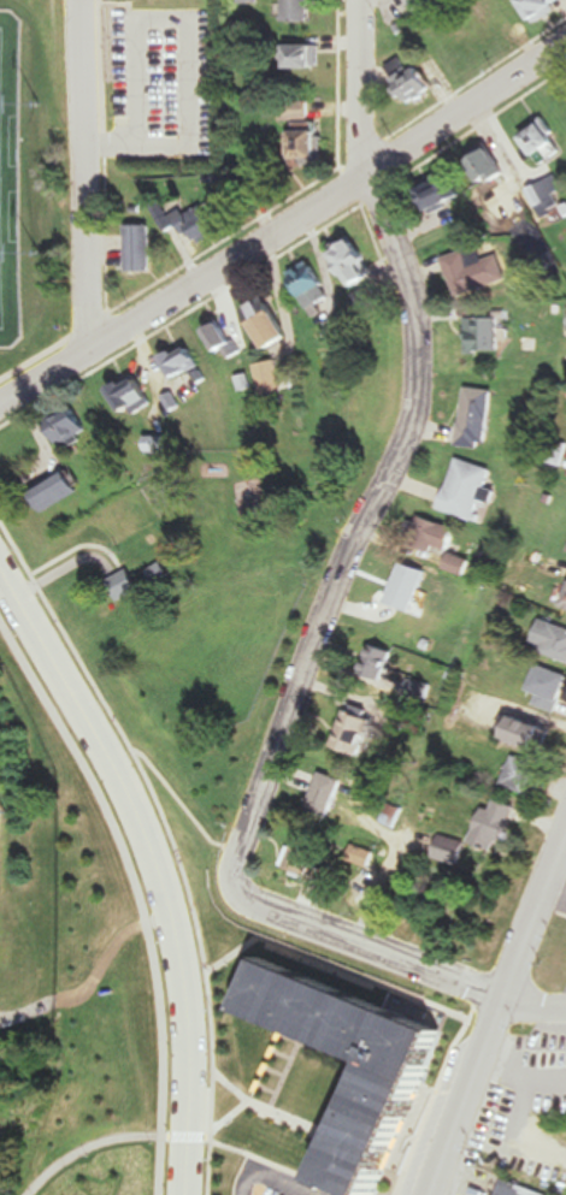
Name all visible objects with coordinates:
building: (542, 7)
building: (299, 11)
road: (189, 19)
building: (497, 26)
building: (456, 55)
building: (305, 57)
building: (408, 78)
parking lot: (165, 82)
road: (360, 87)
building: (544, 141)
building: (309, 142)
road: (112, 144)
building: (499, 172)
road: (86, 173)
building: (442, 193)
building: (543, 196)
building: (195, 223)
road: (282, 223)
building: (138, 248)
road: (284, 249)
building: (353, 262)
road: (169, 271)
building: (476, 271)
building: (311, 286)
building: (367, 297)
building: (266, 324)
building: (485, 336)
building: (220, 341)
building: (267, 378)
building: (130, 395)
building: (478, 418)
building: (72, 431)
building: (155, 446)
building: (556, 454)
building: (470, 489)
building: (58, 493)
road: (360, 534)
building: (432, 534)
building: (161, 574)
building: (125, 586)
building: (413, 587)
park: (201, 614)
park: (243, 621)
building: (552, 639)
building: (382, 662)
building: (420, 688)
building: (550, 688)
building: (399, 714)
building: (362, 726)
building: (533, 734)
building: (355, 744)
building: (525, 775)
building: (334, 787)
road: (175, 795)
building: (325, 807)
building: (395, 807)
building: (499, 827)
road: (167, 841)
stadium: (1, 842)
building: (453, 850)
building: (307, 853)
building: (367, 856)
road: (152, 869)
road: (391, 870)
road: (134, 893)
road: (375, 945)
road: (232, 958)
road: (379, 977)
road: (94, 981)
road: (535, 1005)
road: (496, 1016)
building: (553, 1051)
building: (382, 1100)
road: (265, 1111)
road: (231, 1123)
road: (218, 1143)
road: (90, 1152)
building: (543, 1165)
park: (99, 1166)
road: (276, 1181)
parking lot: (281, 1182)
building: (523, 1189)

